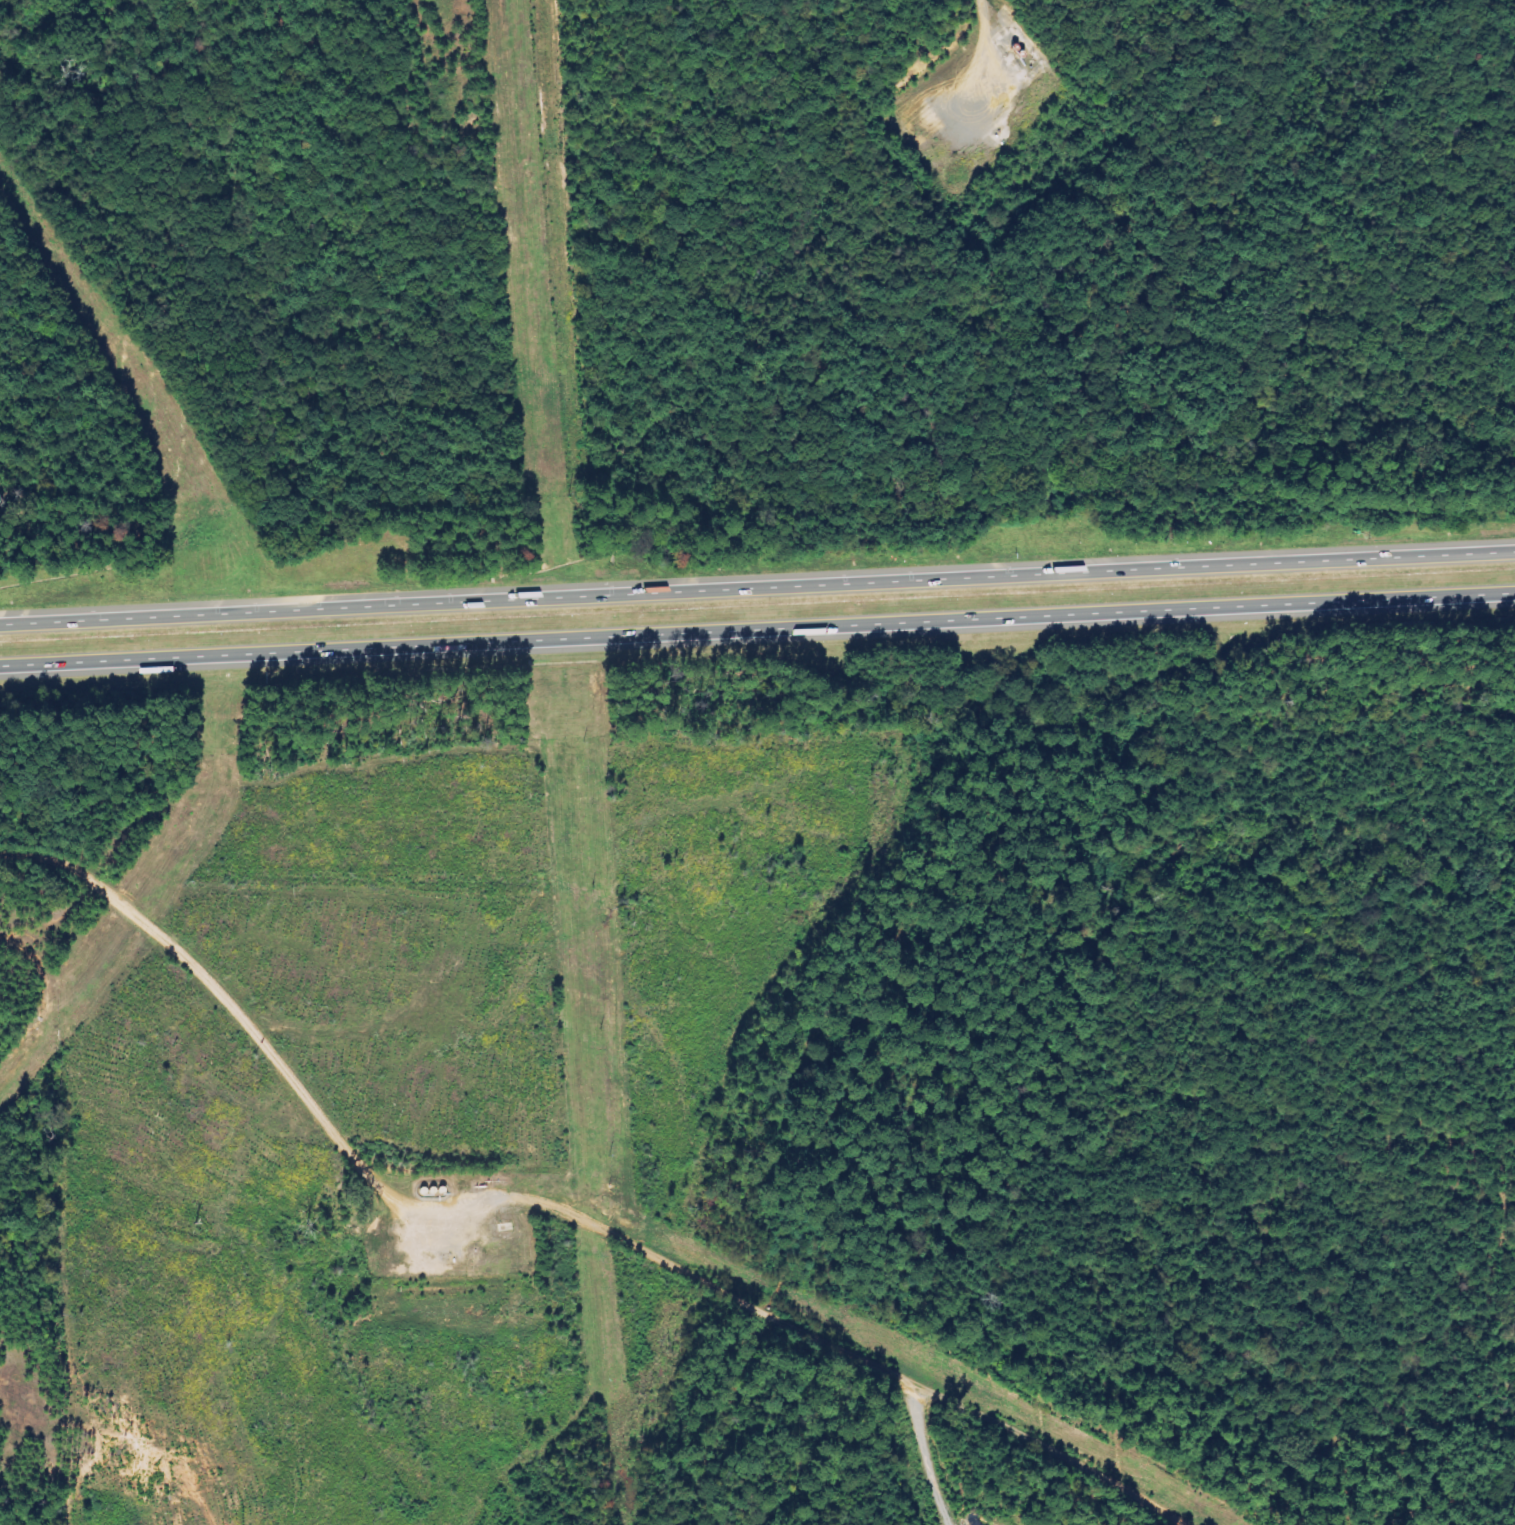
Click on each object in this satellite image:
road: (757, 587)
road: (757, 628)

